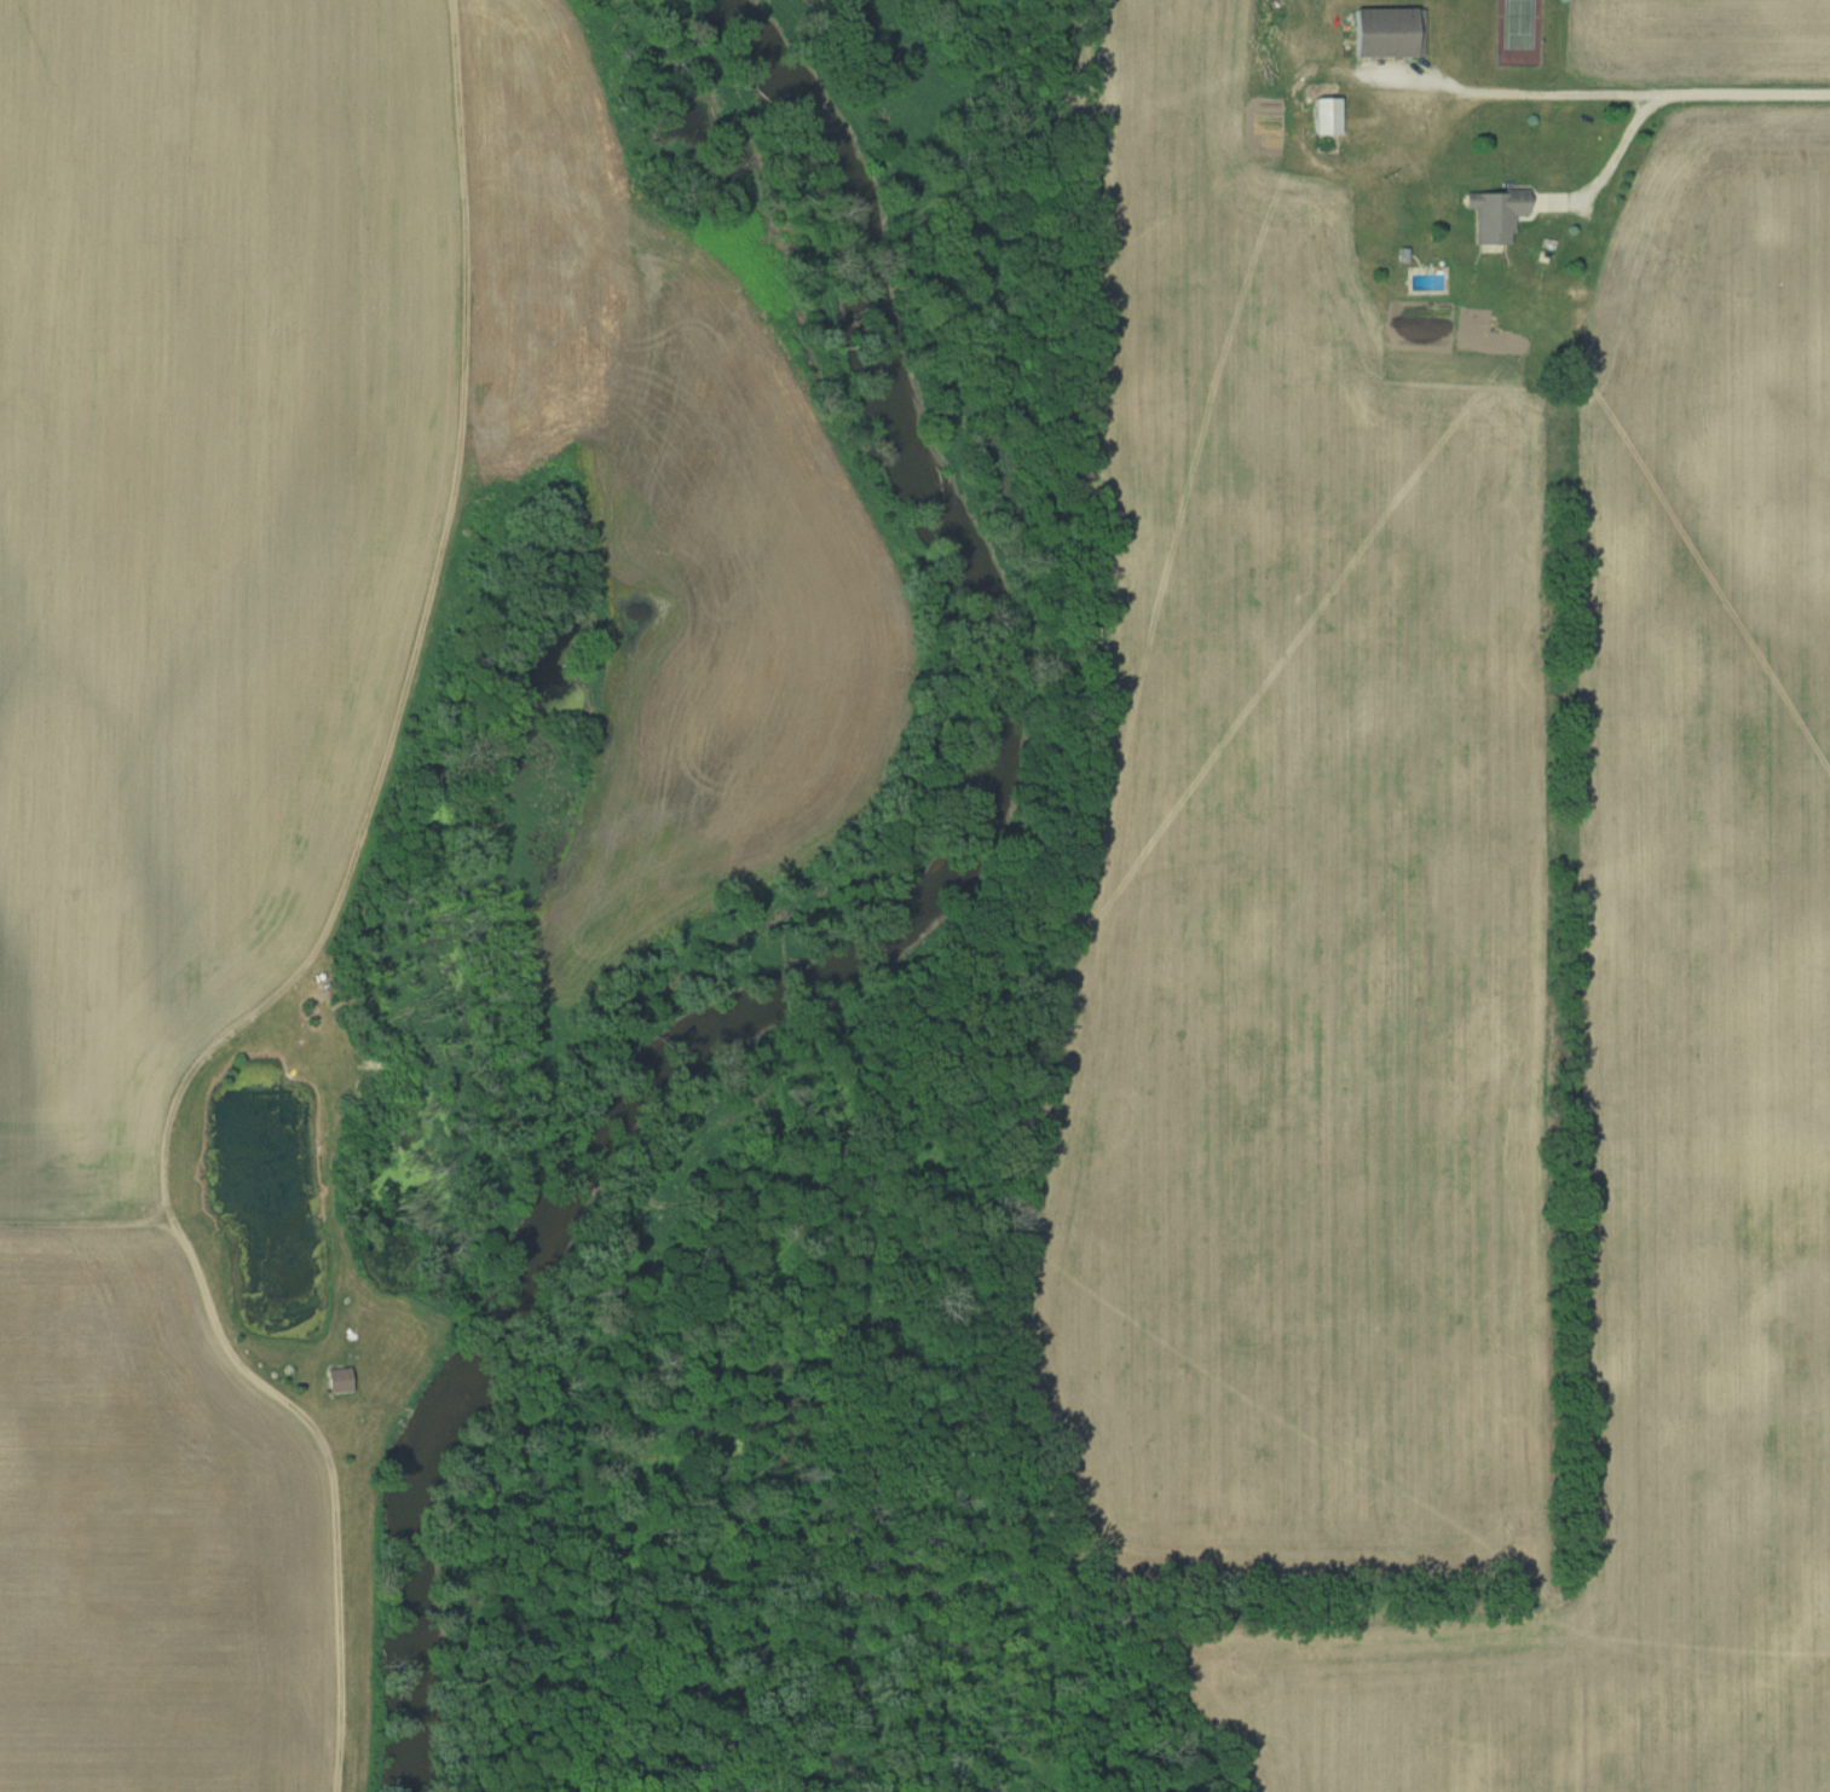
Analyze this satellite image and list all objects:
building: (1385, 30)
road: (1512, 93)
road: (1664, 97)
building: (1324, 115)
building: (1491, 213)
river: (905, 941)
building: (336, 1380)

